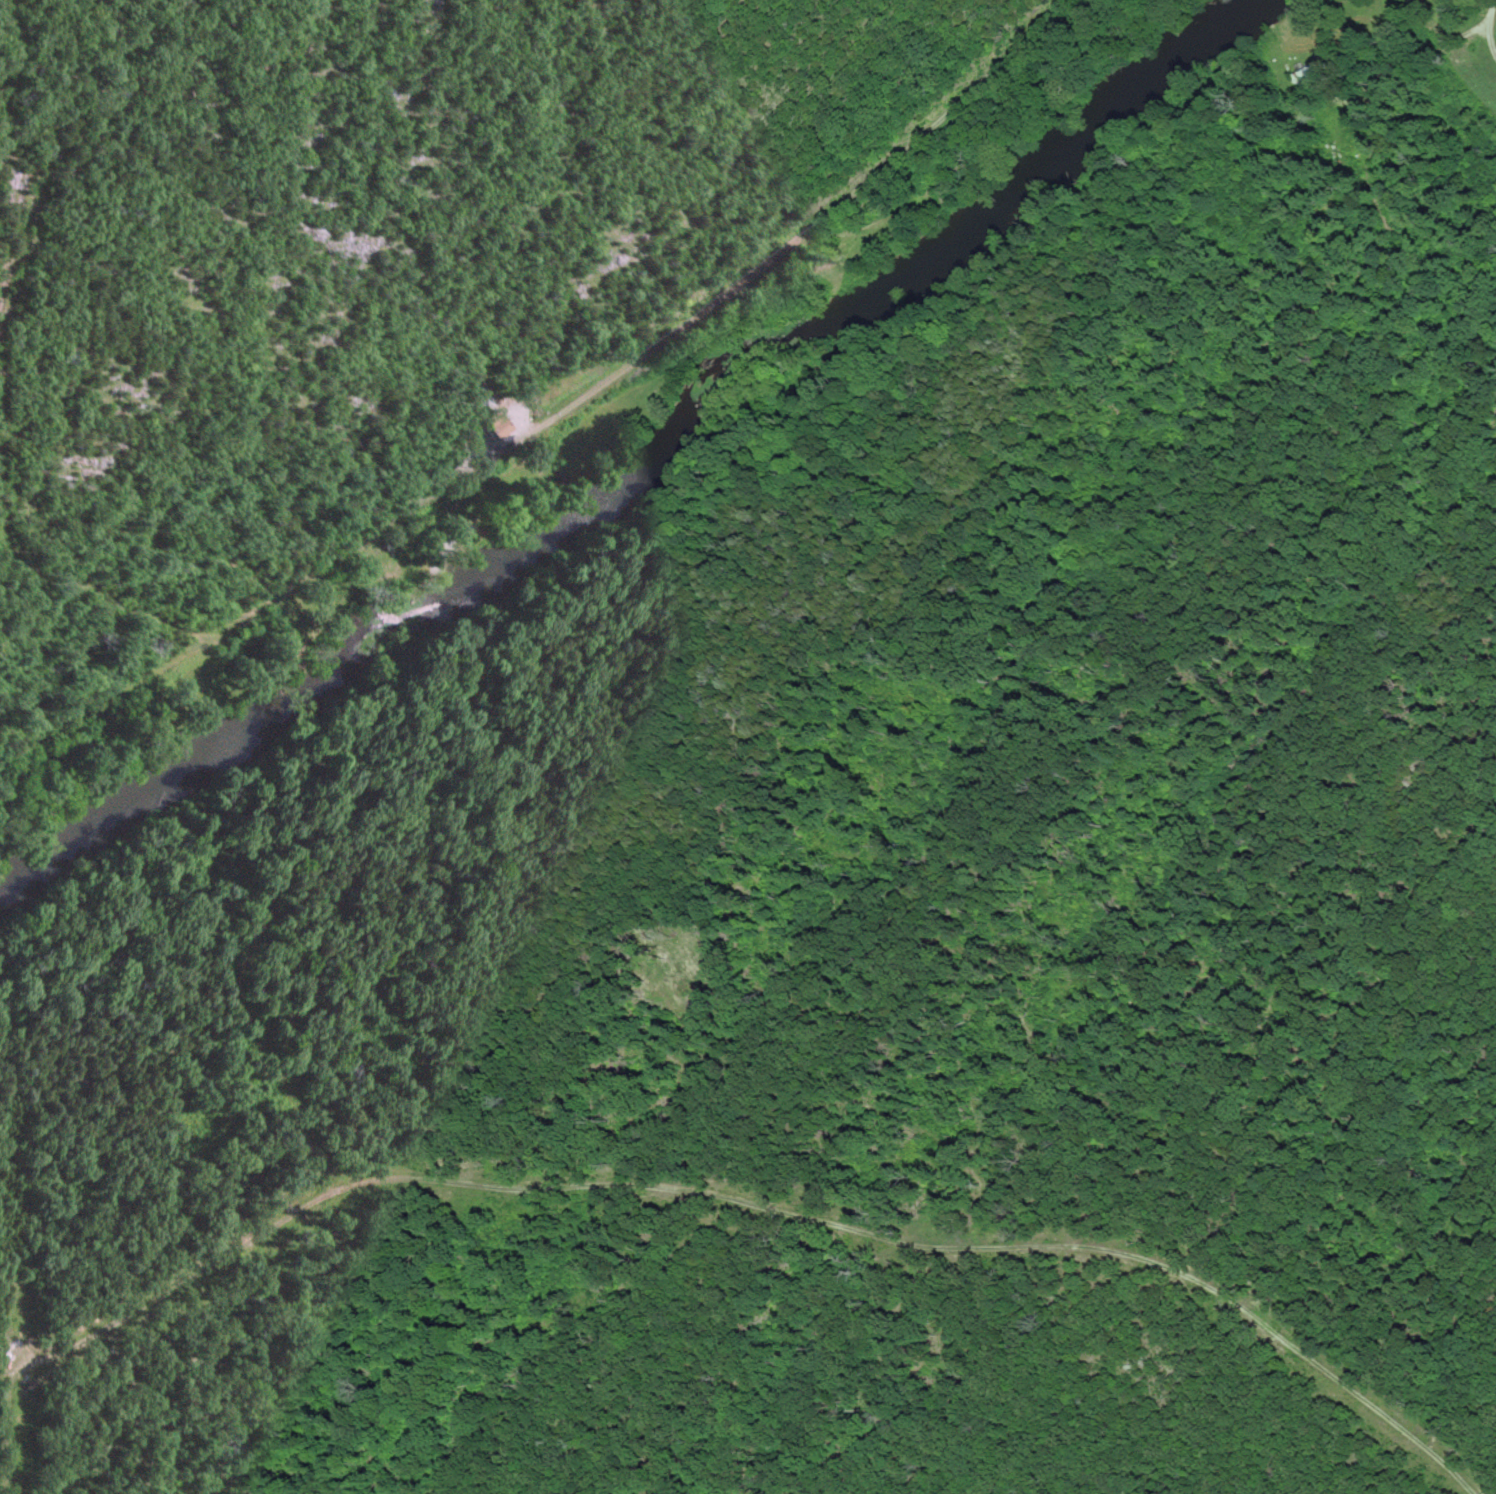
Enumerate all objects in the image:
river: (647, 463)

